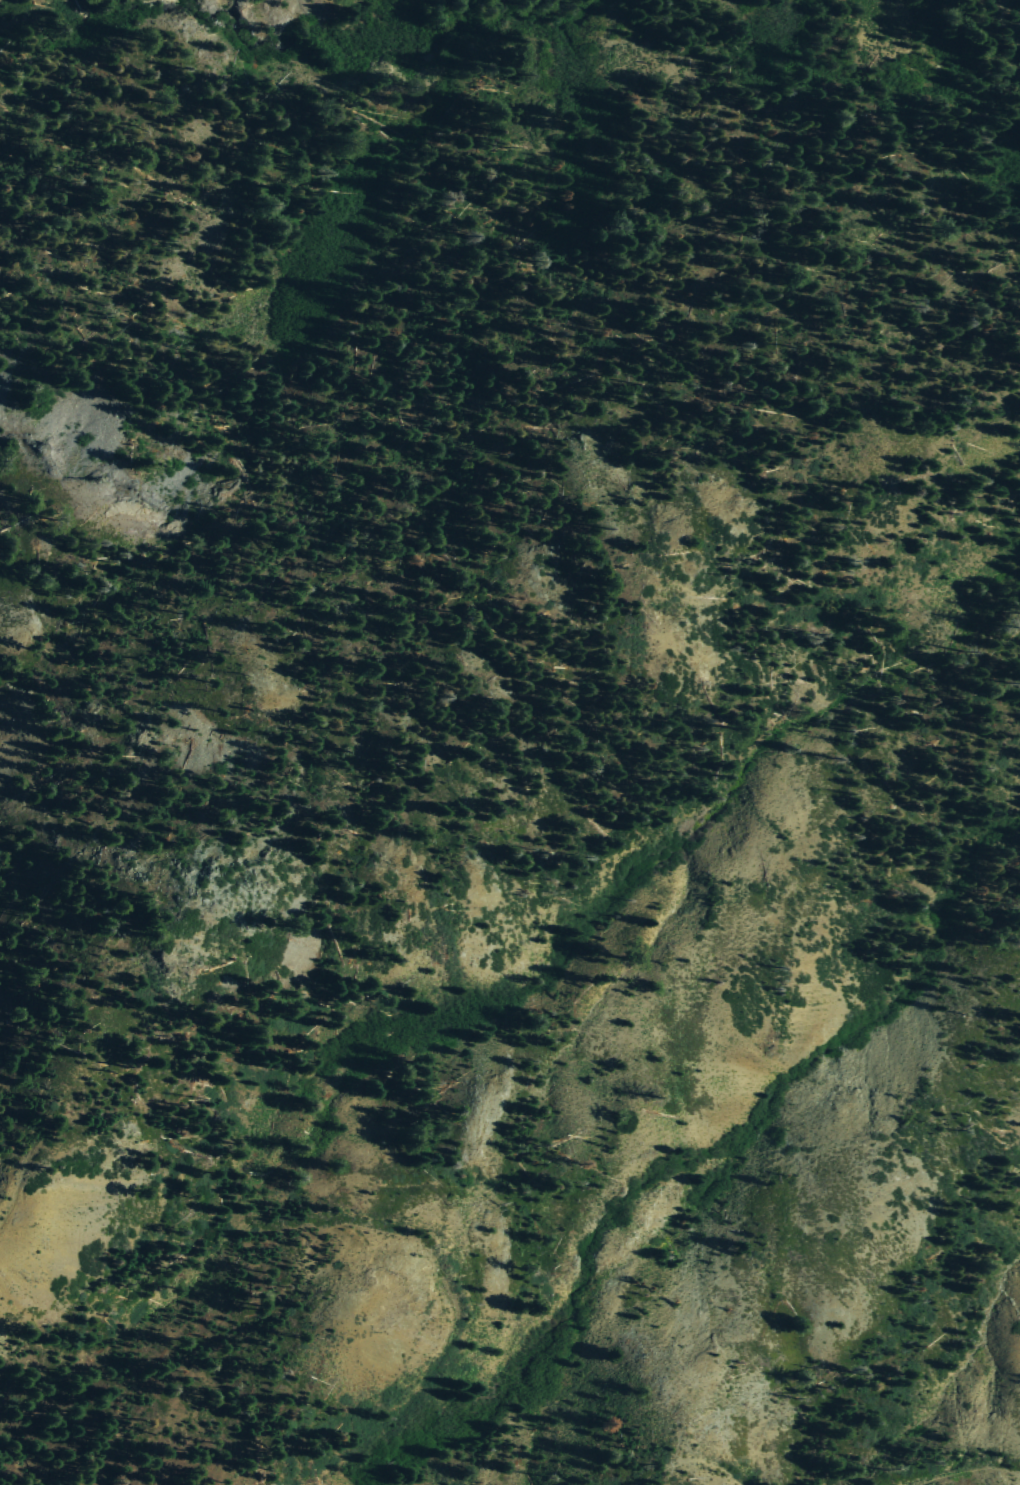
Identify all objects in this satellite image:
road: (681, 1462)
road: (957, 1470)

